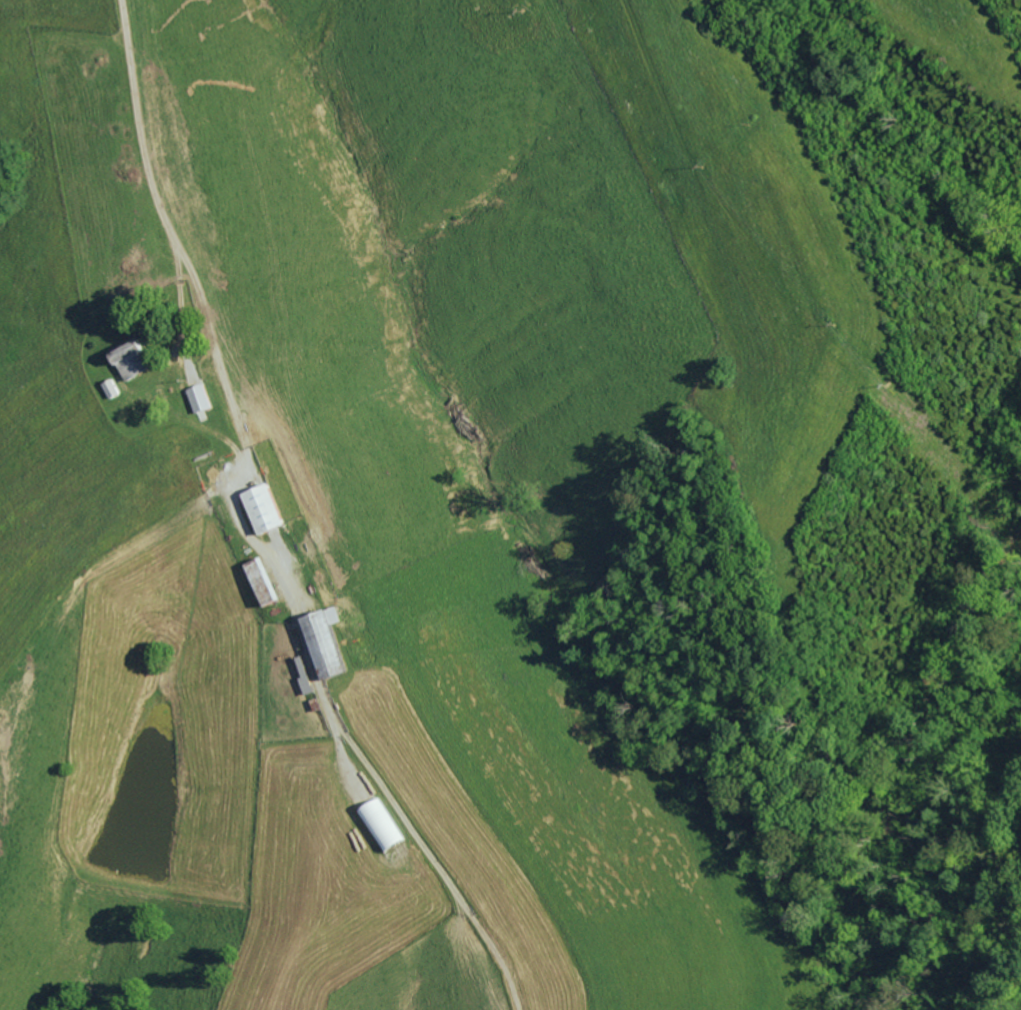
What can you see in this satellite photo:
building: (135, 359)
building: (204, 398)
building: (270, 508)
road: (213, 544)
building: (266, 581)
building: (334, 643)
building: (383, 826)

